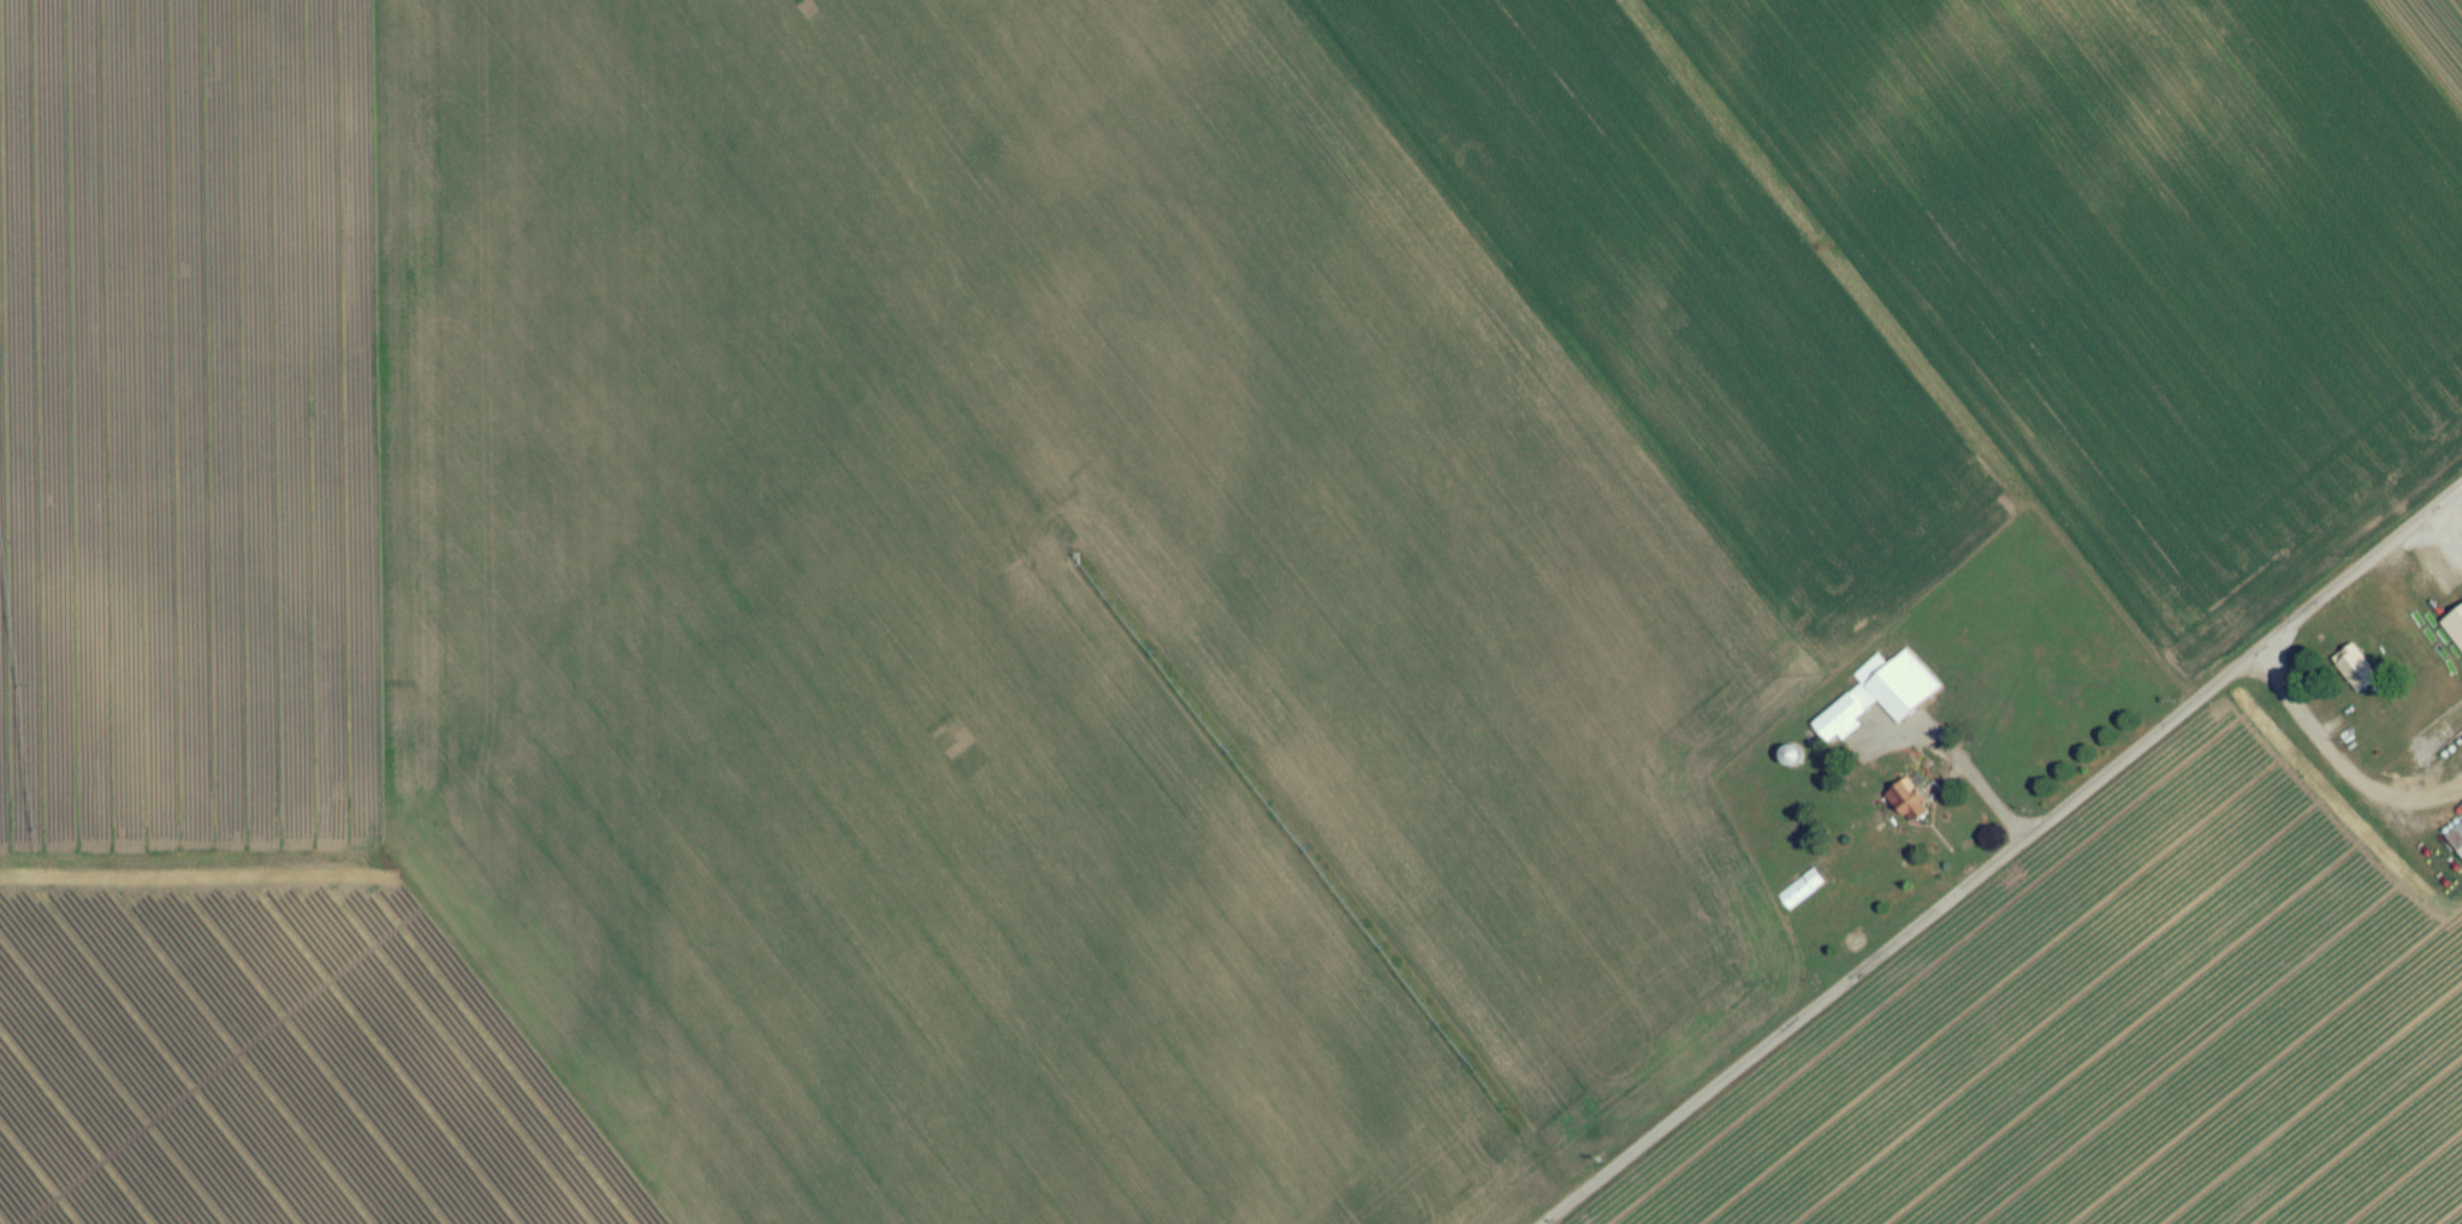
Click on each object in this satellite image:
building: (2455, 635)
building: (2356, 677)
building: (1881, 703)
building: (1792, 763)
road: (1968, 768)
building: (1910, 809)
building: (2456, 846)
road: (2001, 852)
building: (1802, 897)

